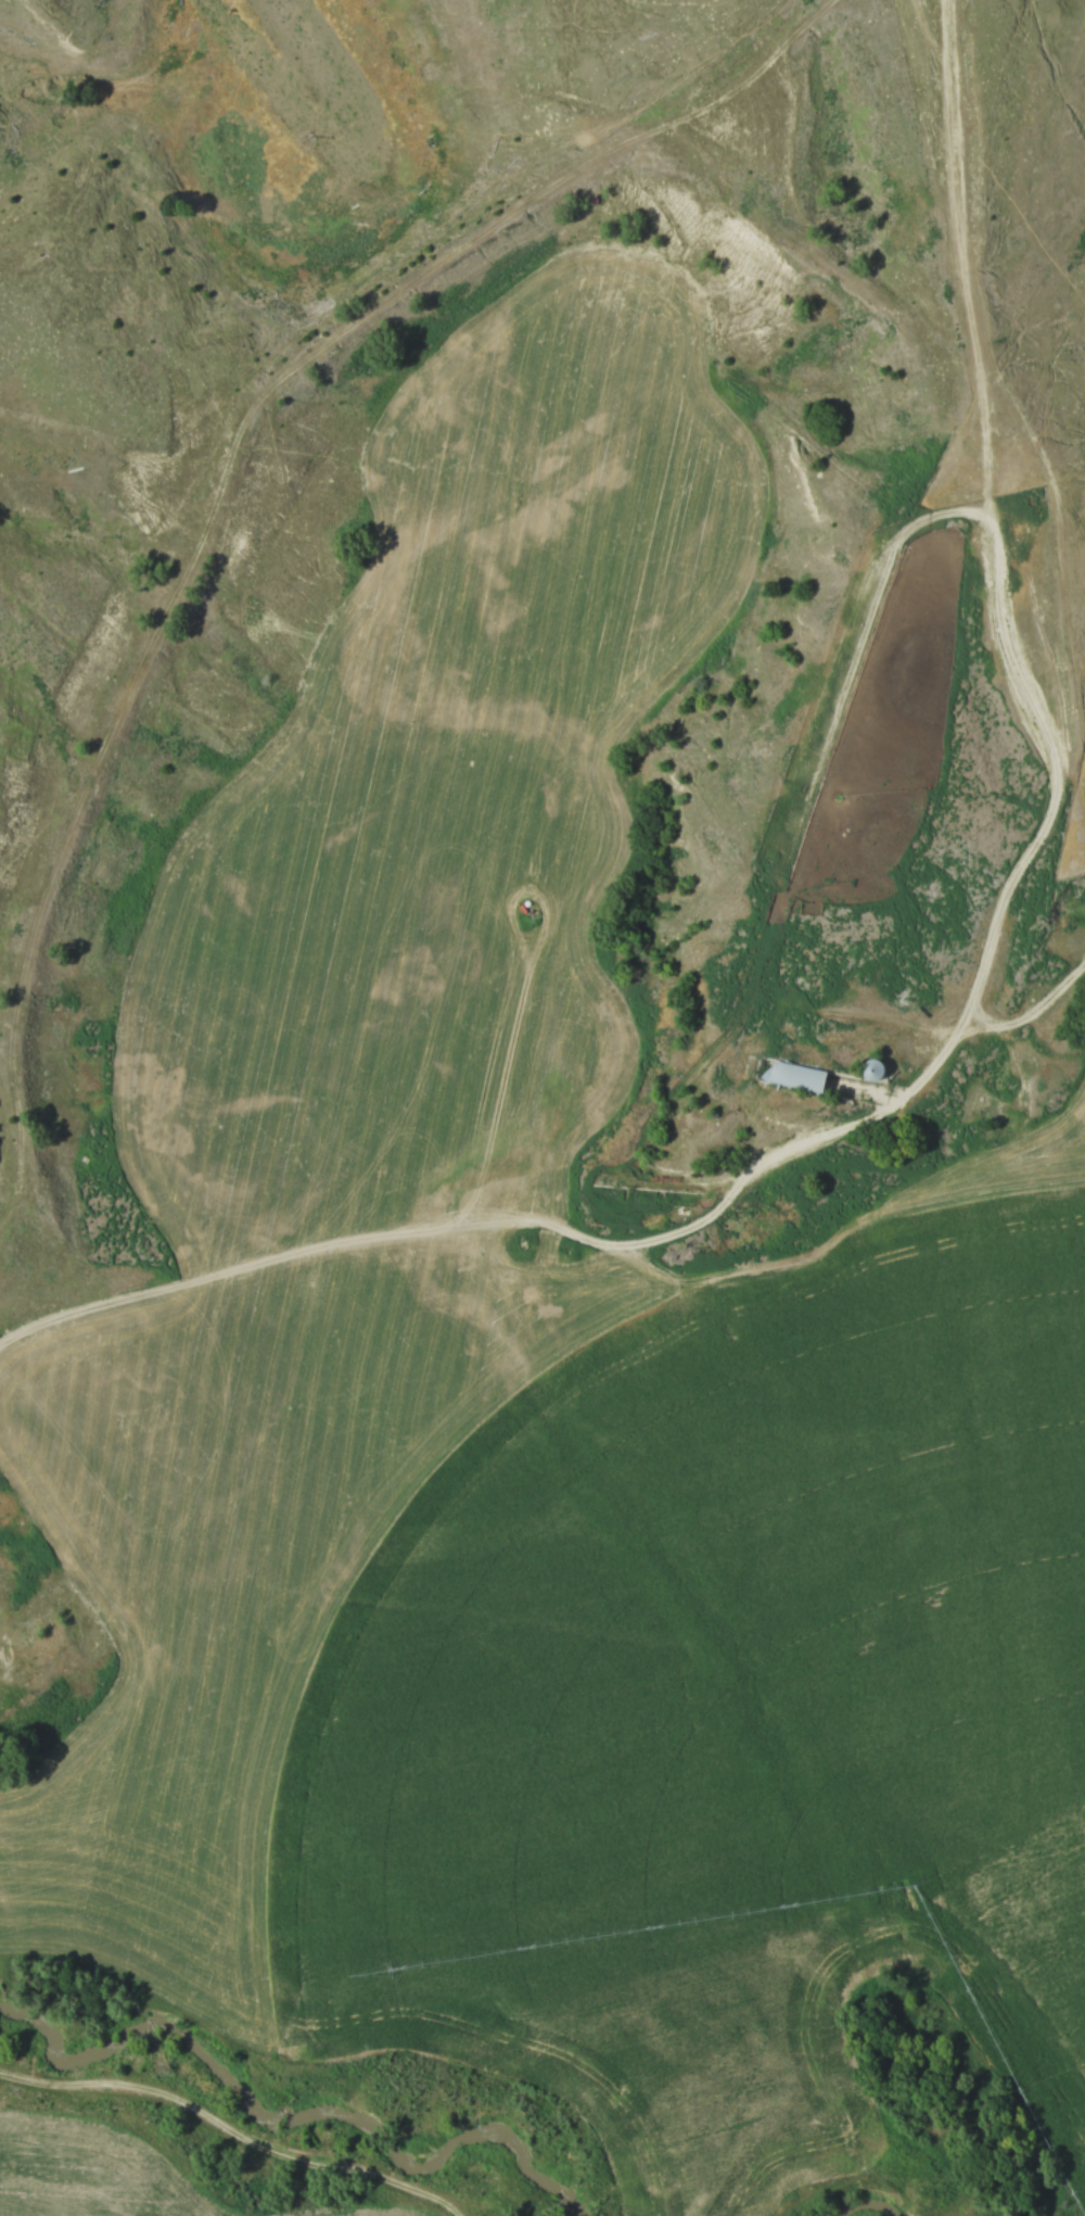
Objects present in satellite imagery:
crop: (443, 805)
building: (869, 1069)
building: (809, 1078)
building: (551, 1291)
crop: (247, 1579)
crop: (737, 1654)
crop: (745, 2063)

